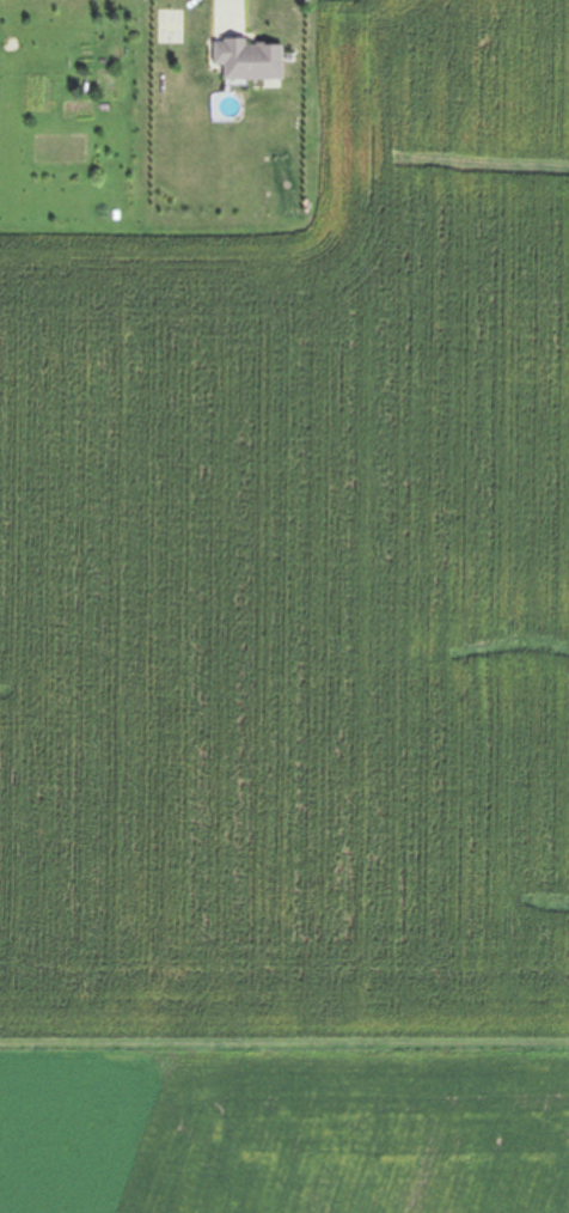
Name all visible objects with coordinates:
building: (245, 60)

